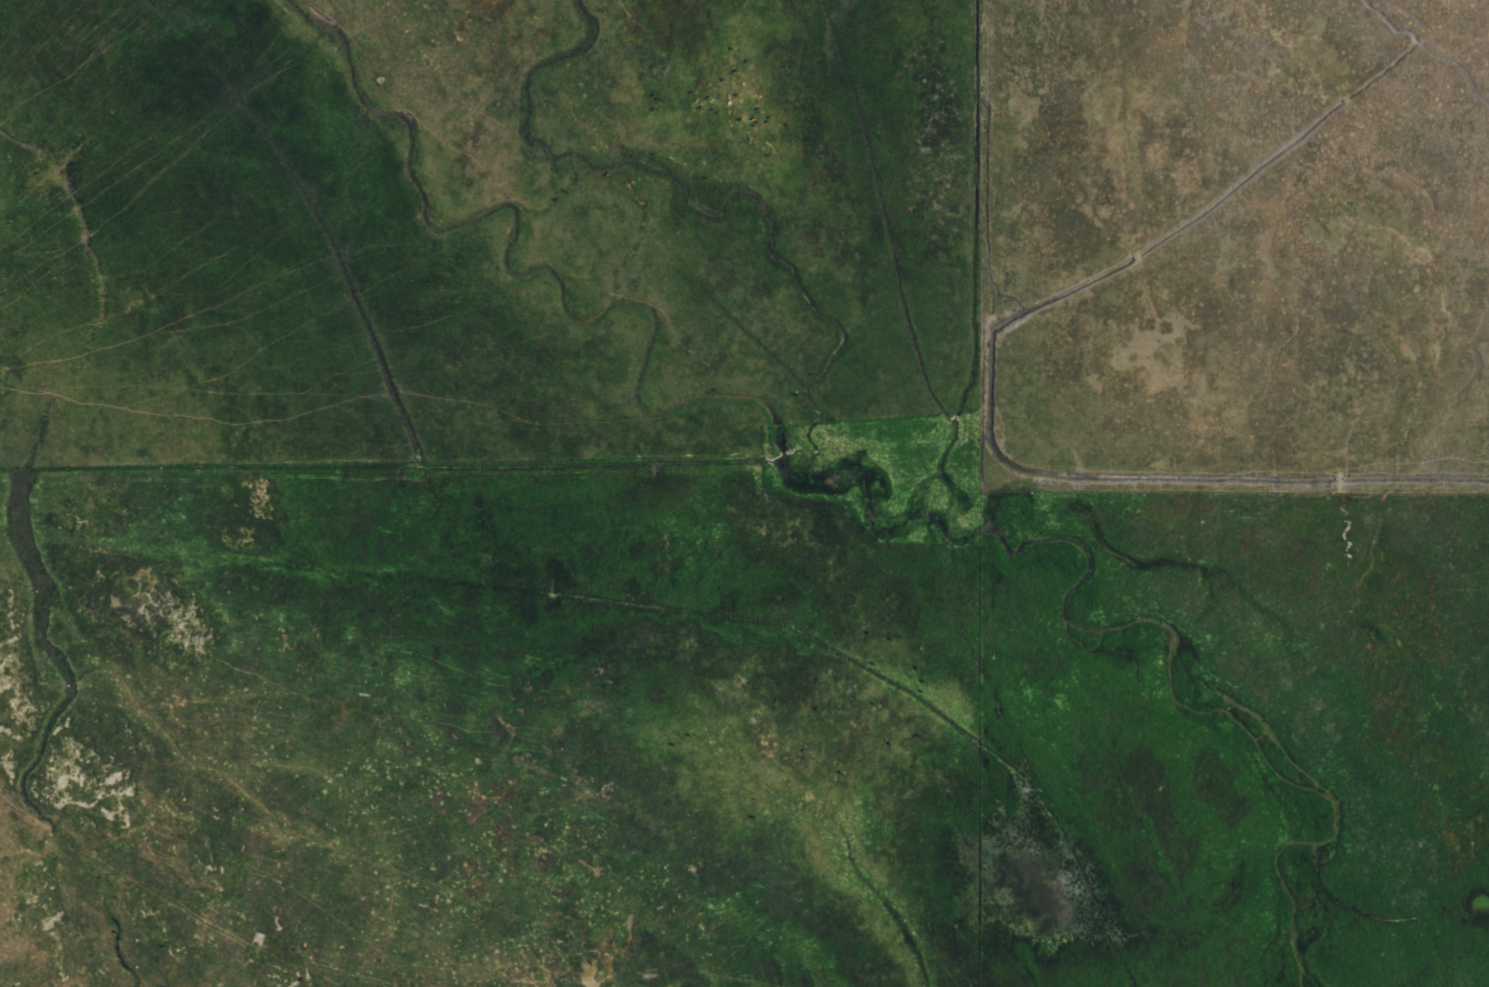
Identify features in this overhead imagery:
crop: (744, 493)

